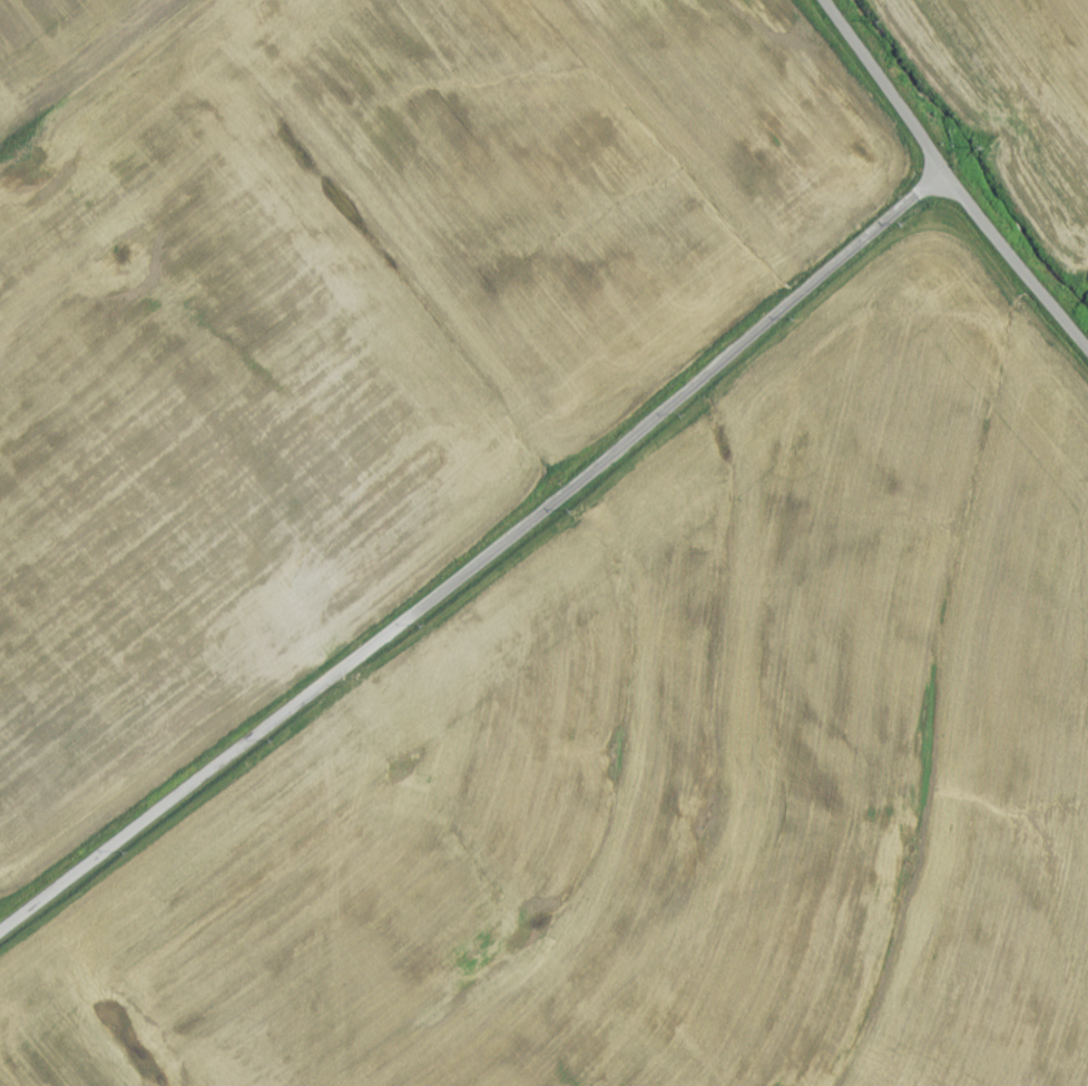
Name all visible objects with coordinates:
road: (944, 178)
road: (480, 566)

